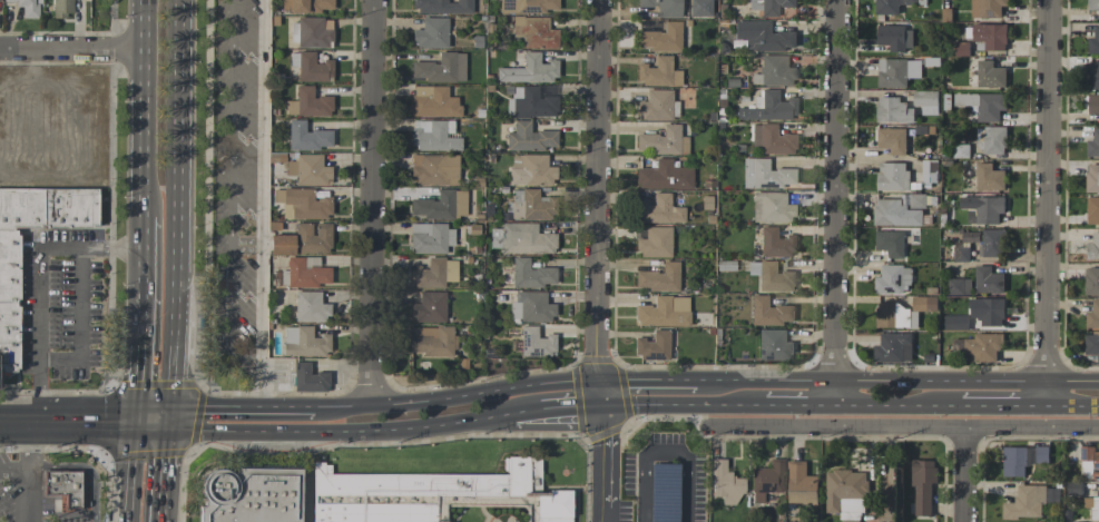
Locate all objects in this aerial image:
building: (1093, 4)
building: (306, 6)
building: (442, 6)
building: (528, 6)
building: (769, 6)
building: (891, 6)
building: (663, 7)
building: (26, 8)
building: (62, 8)
building: (699, 8)
building: (987, 8)
building: (310, 32)
building: (534, 32)
building: (431, 33)
building: (991, 36)
building: (763, 37)
building: (895, 37)
building: (661, 38)
building: (1093, 41)
road: (71, 48)
building: (962, 49)
building: (310, 68)
building: (440, 68)
building: (529, 70)
building: (774, 71)
building: (658, 72)
building: (897, 72)
building: (990, 75)
building: (1093, 75)
building: (433, 101)
building: (530, 101)
building: (926, 101)
building: (307, 104)
building: (1093, 104)
building: (983, 105)
building: (658, 106)
road: (144, 108)
building: (767, 108)
building: (893, 110)
building: (434, 136)
building: (307, 137)
building: (530, 138)
building: (992, 139)
building: (771, 140)
building: (892, 140)
road: (180, 141)
building: (663, 141)
building: (1093, 145)
building: (962, 150)
building: (308, 169)
building: (433, 169)
building: (531, 170)
building: (930, 171)
building: (765, 175)
building: (664, 176)
building: (893, 177)
building: (990, 177)
building: (1092, 178)
parking lot: (241, 181)
road: (596, 190)
road: (262, 195)
road: (229, 199)
building: (918, 200)
road: (835, 201)
road: (1047, 201)
building: (303, 203)
road: (372, 203)
building: (440, 205)
building: (531, 205)
building: (771, 208)
building: (982, 208)
building: (660, 210)
building: (1092, 210)
building: (896, 213)
building: (970, 236)
building: (430, 238)
building: (521, 238)
building: (303, 239)
building: (655, 243)
building: (891, 243)
building: (992, 243)
road: (245, 244)
building: (775, 244)
building: (1093, 246)
building: (962, 254)
building: (306, 273)
building: (433, 273)
building: (531, 274)
building: (658, 278)
building: (774, 278)
road: (38, 279)
building: (894, 279)
road: (146, 280)
building: (989, 280)
building: (1091, 282)
building: (960, 286)
building: (11, 302)
building: (924, 303)
building: (531, 306)
building: (310, 307)
building: (429, 307)
building: (988, 311)
building: (664, 312)
building: (769, 312)
building: (1093, 315)
building: (897, 316)
building: (955, 322)
road: (81, 325)
building: (432, 341)
building: (304, 342)
building: (536, 343)
building: (1091, 344)
building: (773, 345)
building: (652, 346)
building: (984, 346)
building: (893, 347)
road: (176, 352)
road: (252, 355)
building: (308, 378)
road: (896, 380)
road: (139, 382)
traffic signals: (598, 382)
road: (647, 382)
road: (599, 393)
road: (457, 395)
road: (258, 398)
road: (681, 403)
road: (799, 403)
traffic signals: (600, 404)
road: (897, 404)
road: (1003, 404)
road: (568, 405)
road: (1072, 405)
road: (241, 406)
road: (522, 411)
road: (29, 420)
road: (98, 420)
traffic signals: (138, 420)
road: (154, 420)
traffic signals: (169, 421)
road: (903, 426)
road: (337, 432)
road: (663, 451)
road: (166, 455)
road: (601, 456)
road: (26, 457)
building: (1022, 459)
building: (1089, 462)
road: (135, 470)
road: (963, 474)
building: (766, 480)
building: (724, 483)
building: (802, 484)
building: (923, 485)
building: (66, 487)
building: (1075, 487)
building: (664, 492)
parking lot: (664, 492)
building: (845, 493)
parking lot: (23, 494)
building: (421, 494)
building: (246, 495)
road: (24, 496)
building: (1030, 501)
building: (1092, 505)
road: (161, 506)
road: (598, 516)

